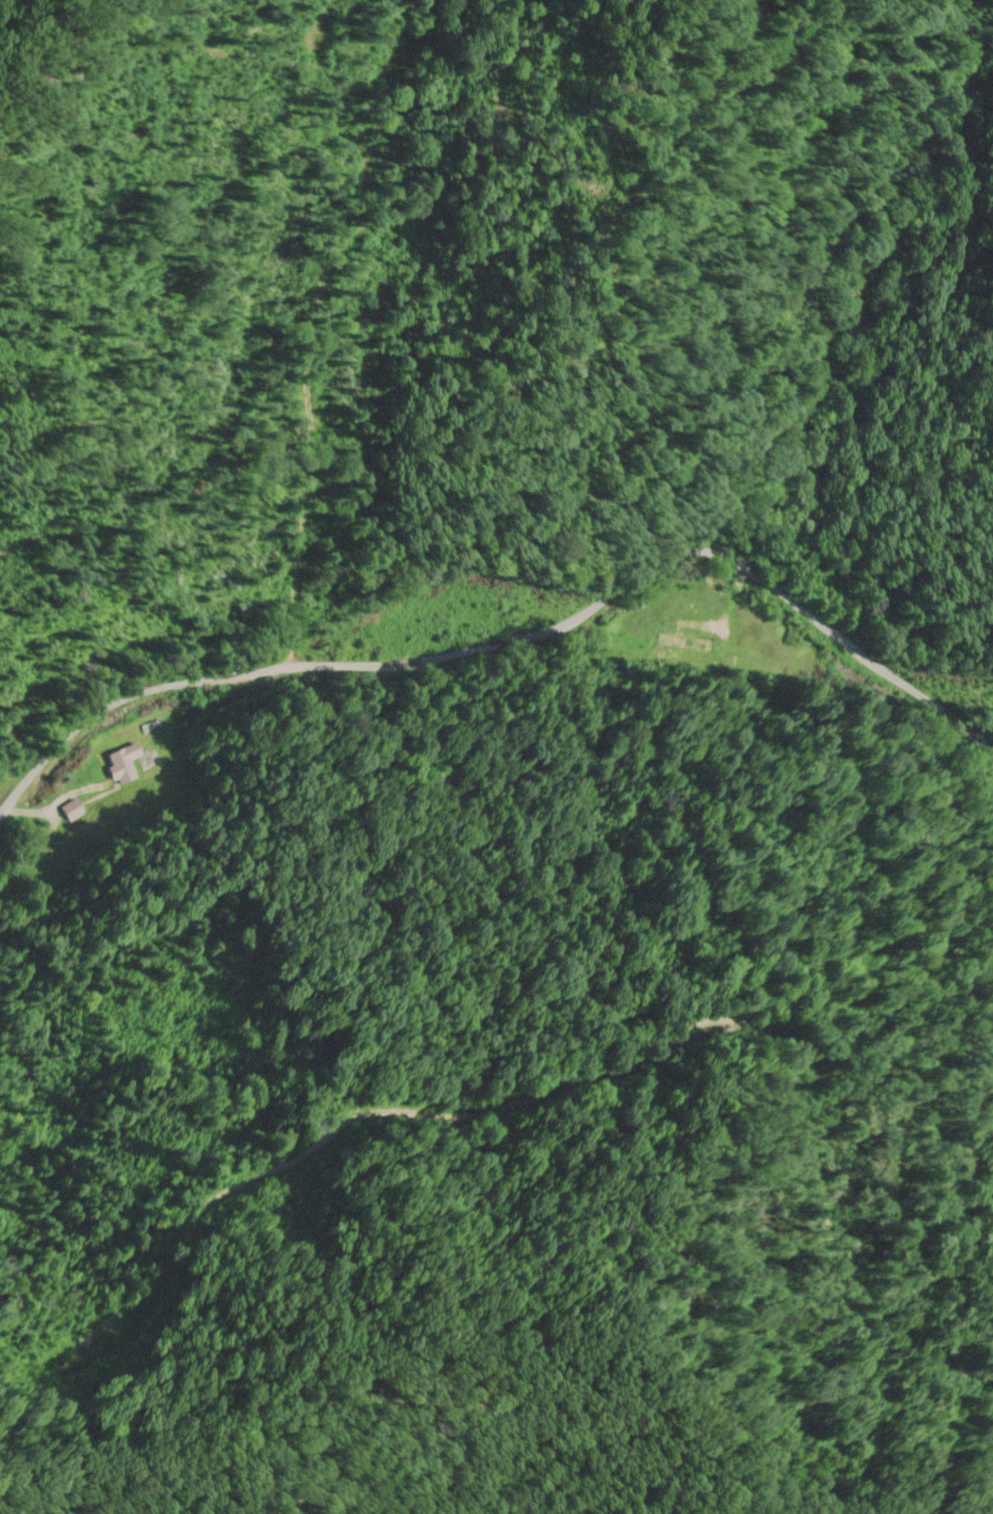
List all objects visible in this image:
road: (314, 419)
road: (516, 638)

